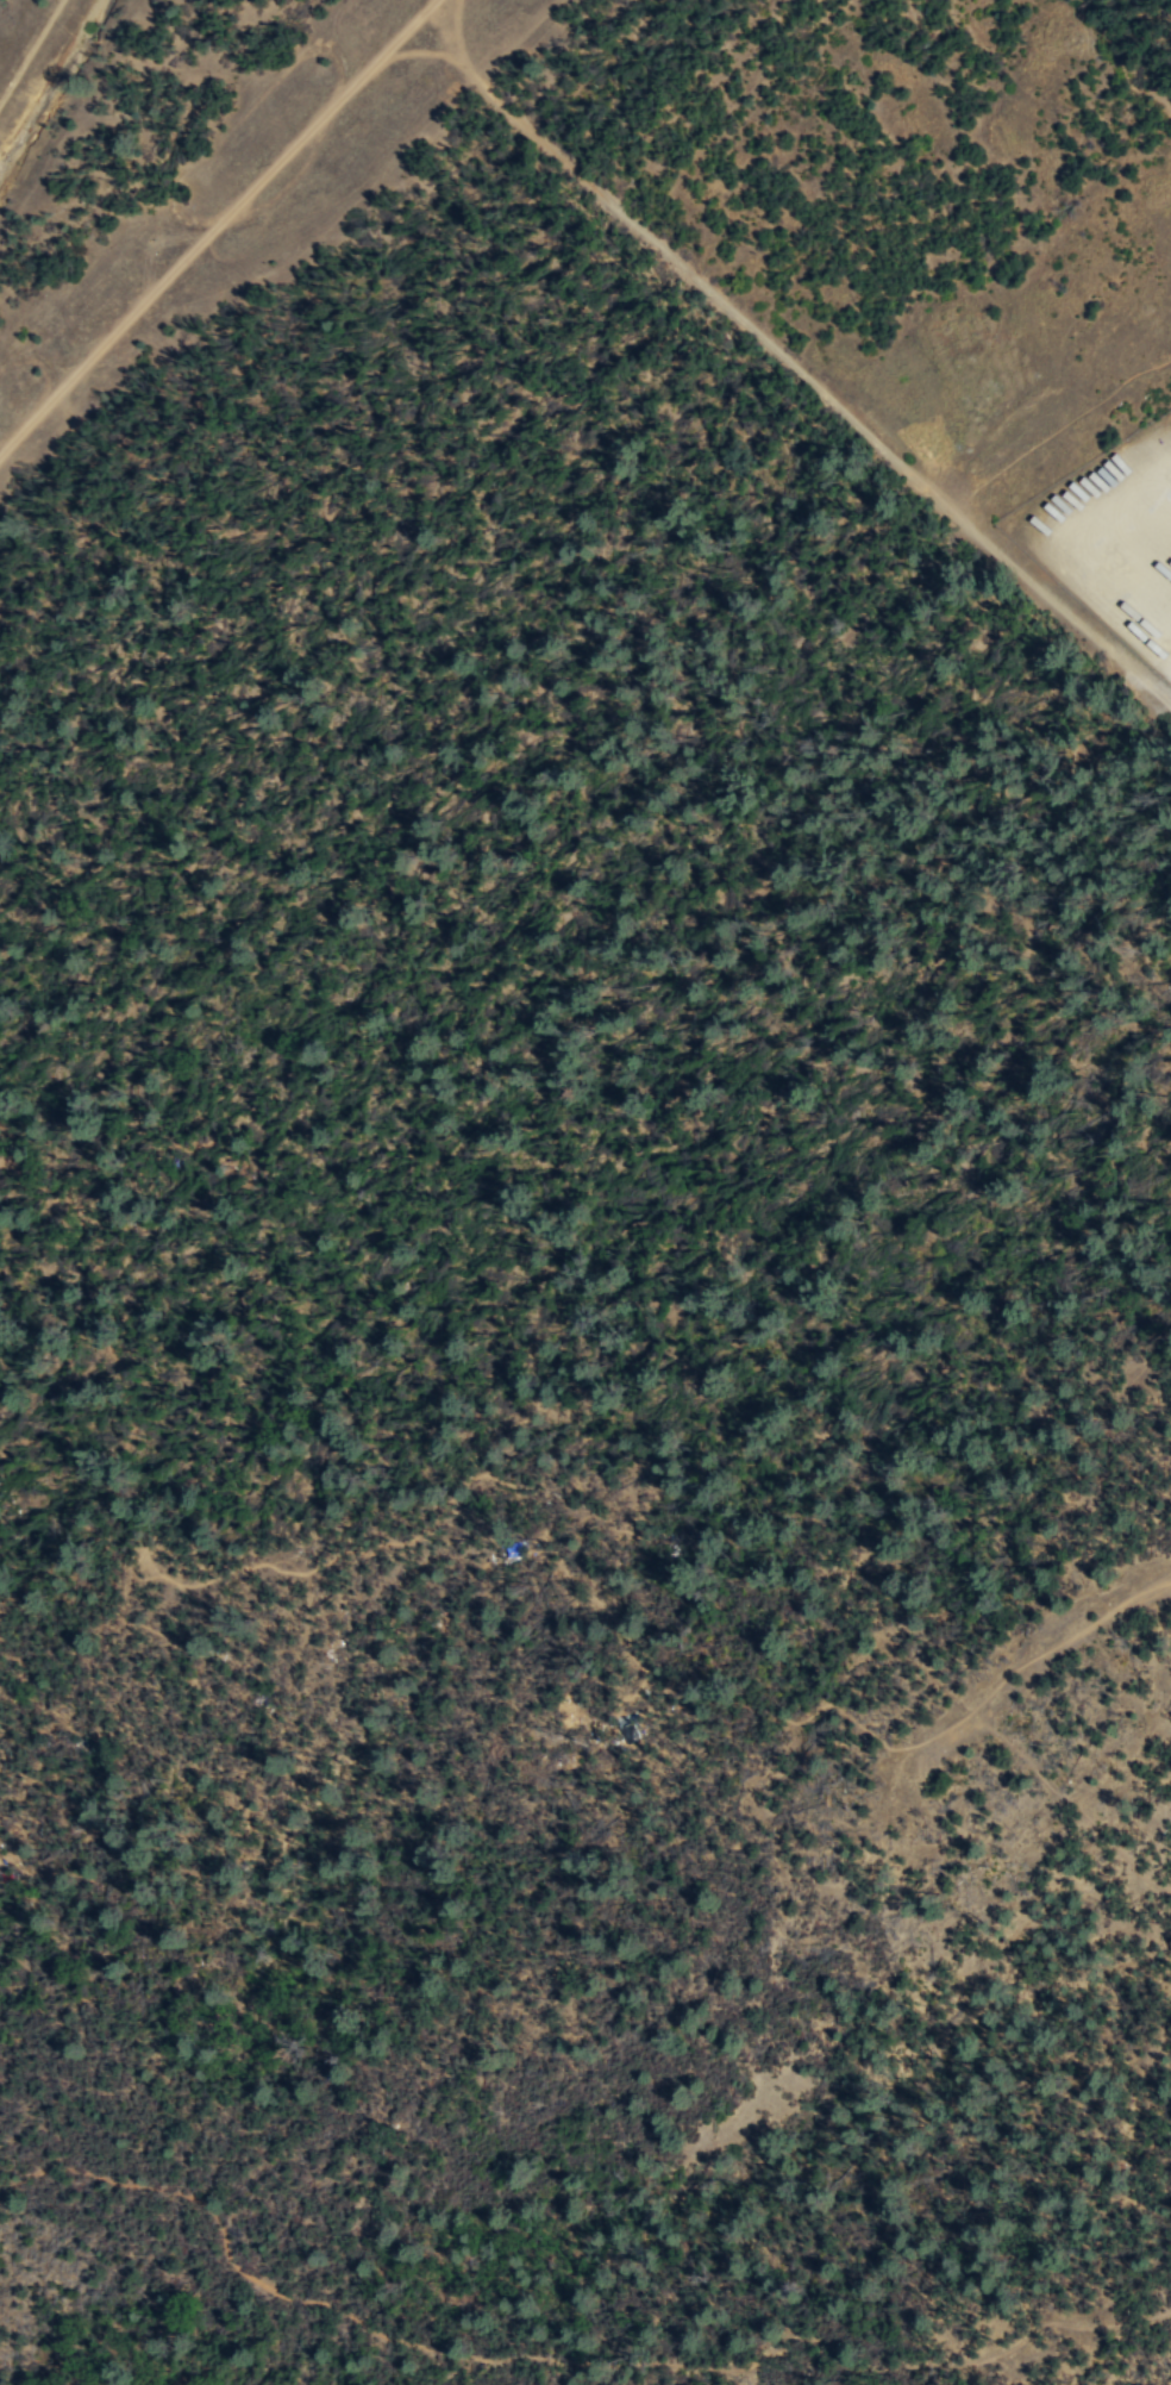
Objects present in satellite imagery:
road: (215, 225)
road: (790, 364)
road: (1069, 1641)
road: (937, 1747)
road: (1073, 1805)
road: (565, 2359)

